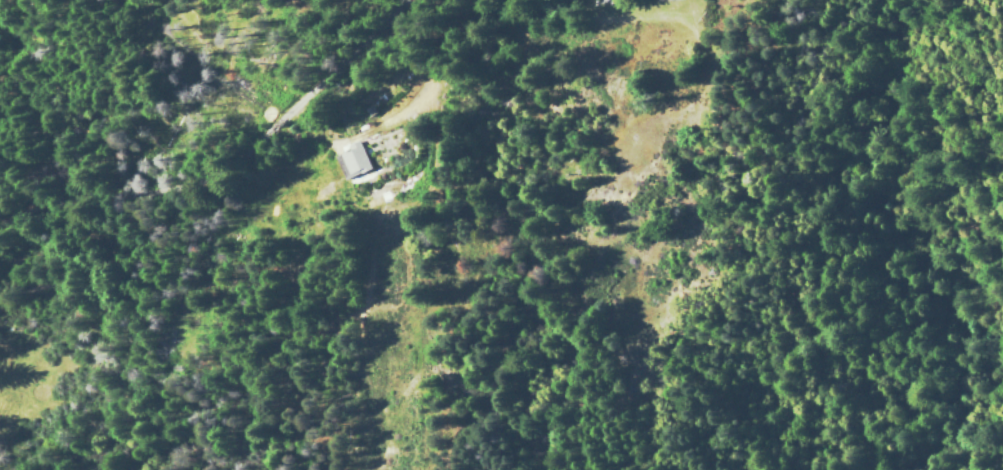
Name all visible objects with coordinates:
building: (657, 0)
road: (227, 153)
building: (349, 159)
road: (955, 413)

